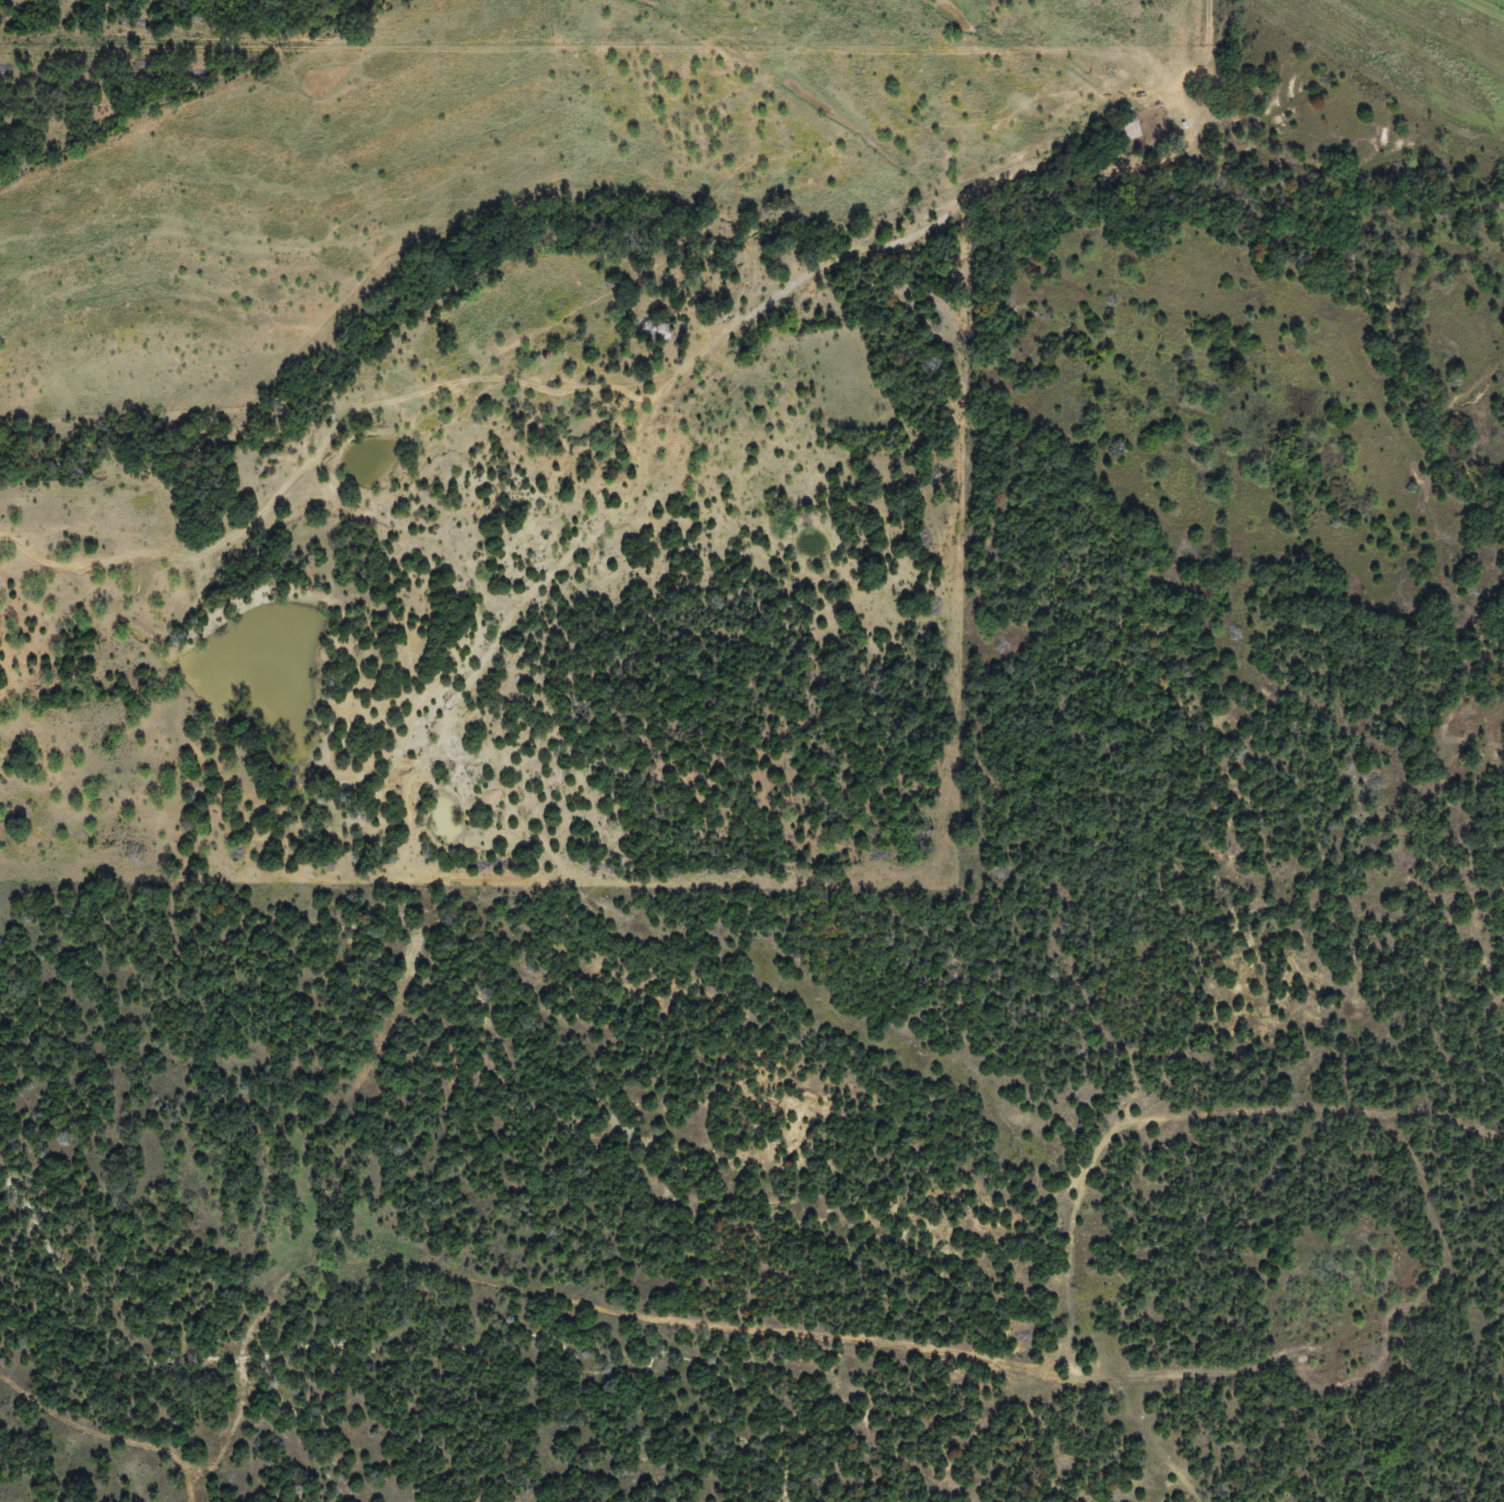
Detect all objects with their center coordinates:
building: (1128, 127)
building: (654, 330)

